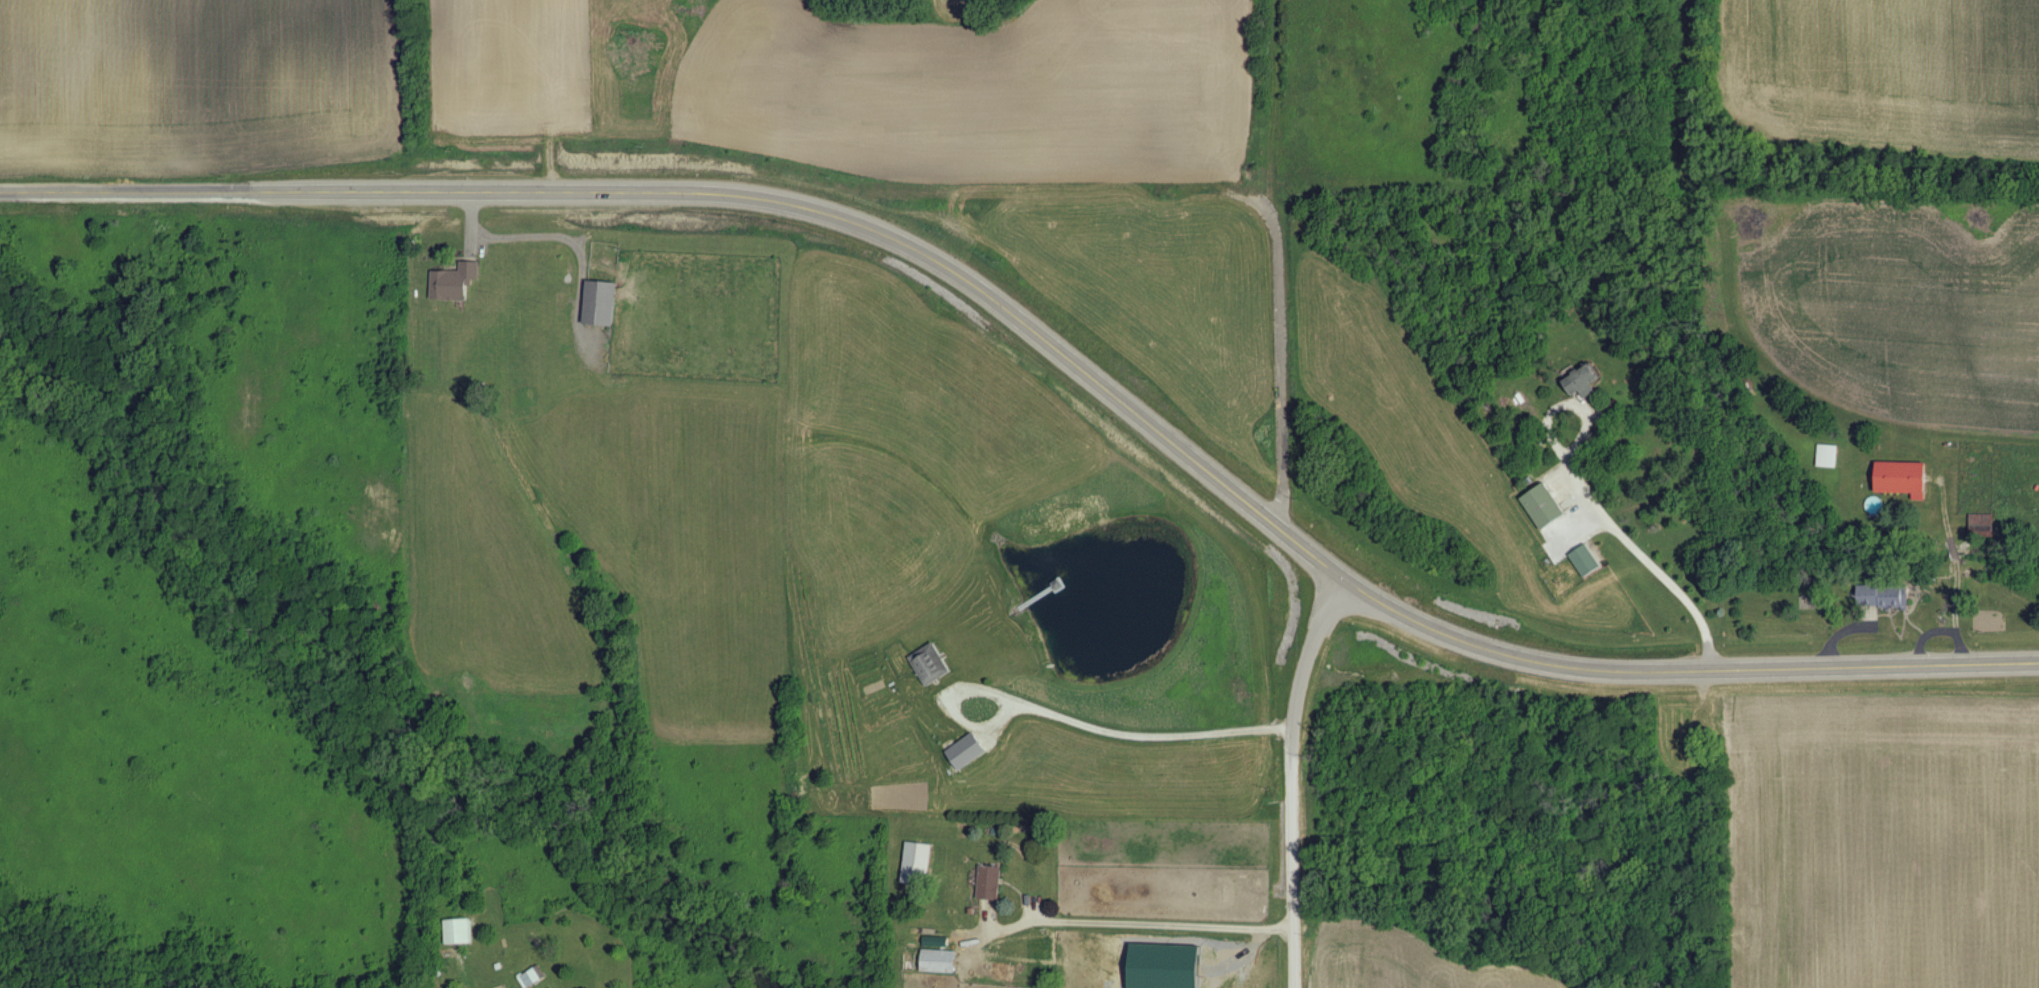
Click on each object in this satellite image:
building: (456, 283)
building: (603, 305)
road: (1050, 343)
building: (1585, 383)
building: (1830, 457)
building: (1906, 480)
building: (1546, 508)
building: (1983, 526)
road: (1628, 542)
building: (1588, 562)
road: (1958, 576)
building: (1886, 598)
road: (1927, 637)
building: (933, 666)
road: (1074, 721)
building: (969, 753)
road: (1292, 778)
building: (920, 865)
building: (992, 884)
road: (1141, 926)
building: (460, 934)
building: (941, 963)
building: (1169, 967)
building: (532, 979)

